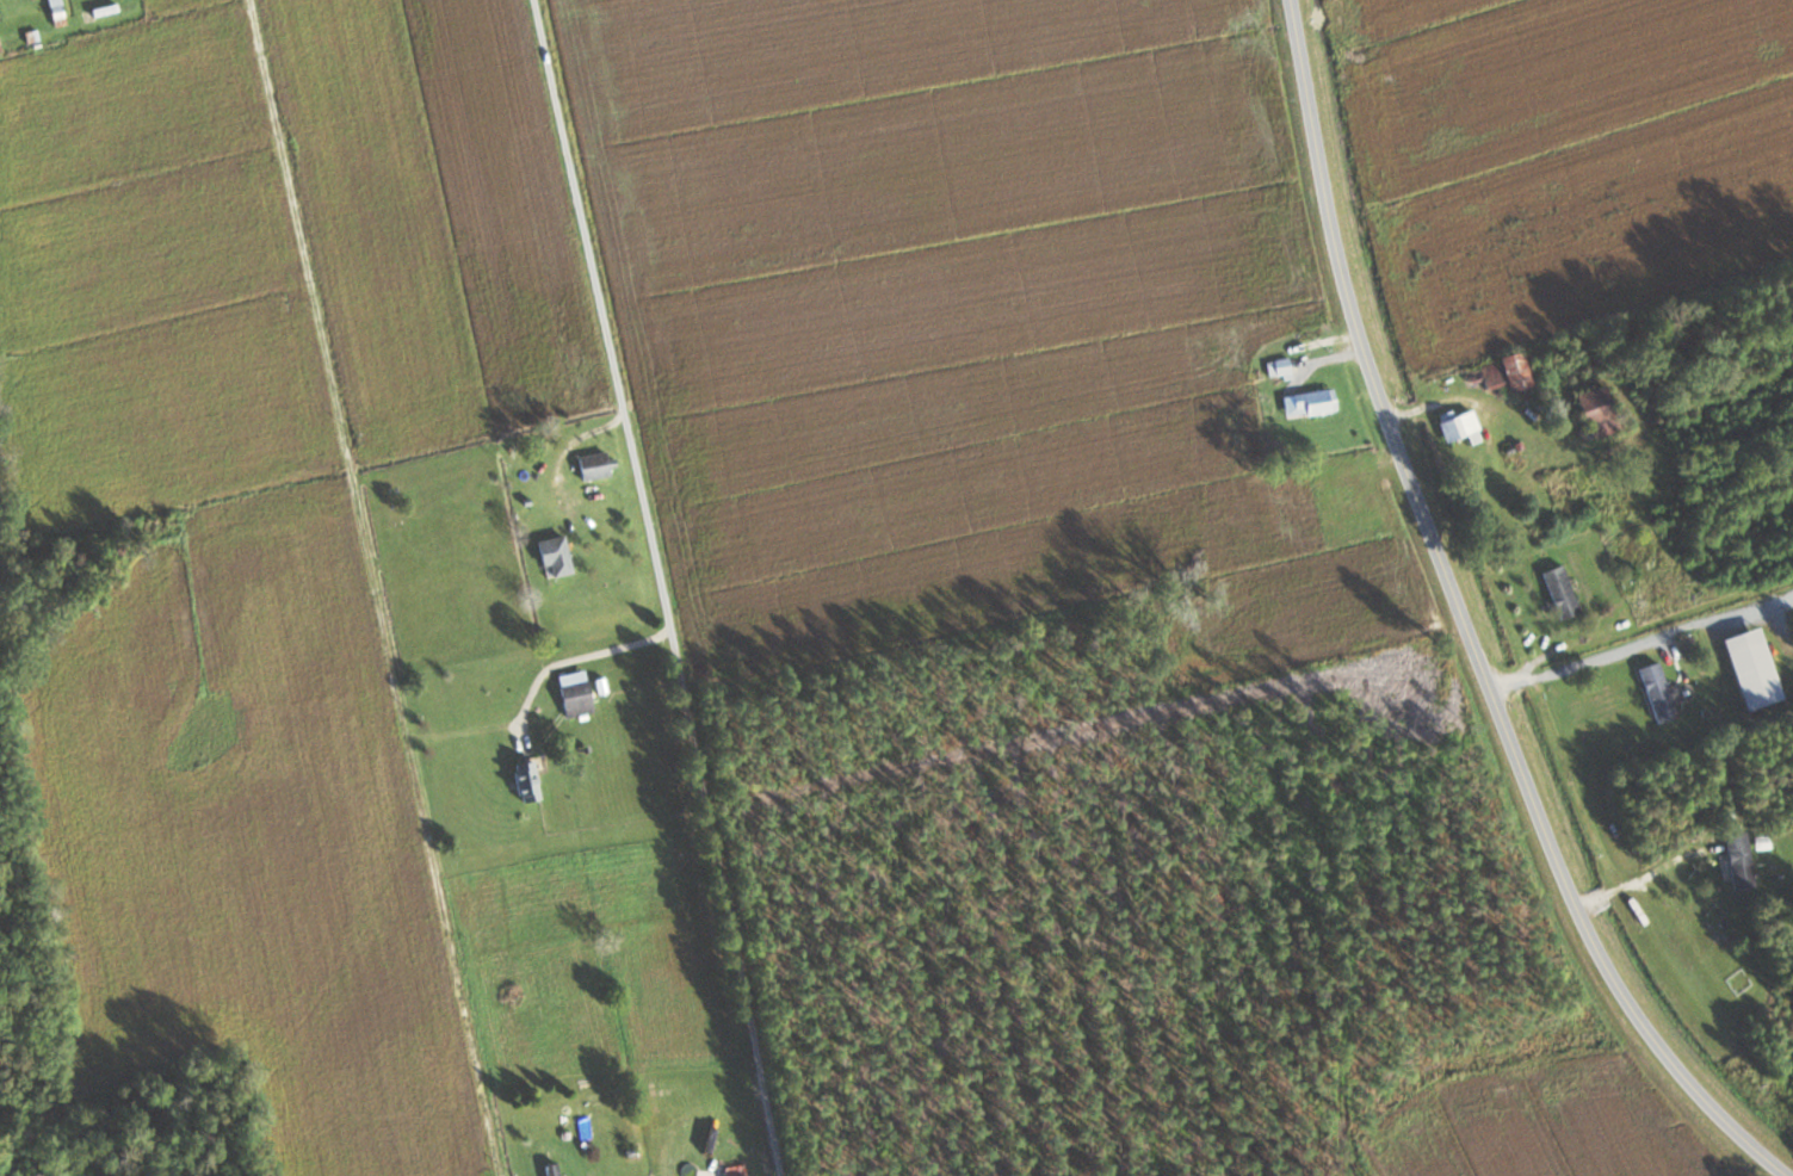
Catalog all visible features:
building: (103, 10)
building: (56, 12)
building: (1279, 367)
building: (1513, 371)
building: (1313, 402)
building: (1595, 413)
building: (1459, 427)
building: (592, 465)
building: (552, 556)
road: (371, 587)
building: (1559, 592)
road: (1463, 623)
road: (1594, 652)
building: (1749, 668)
building: (1656, 692)
building: (573, 694)
road: (514, 725)
building: (528, 780)
building: (1757, 869)
building: (550, 1169)

